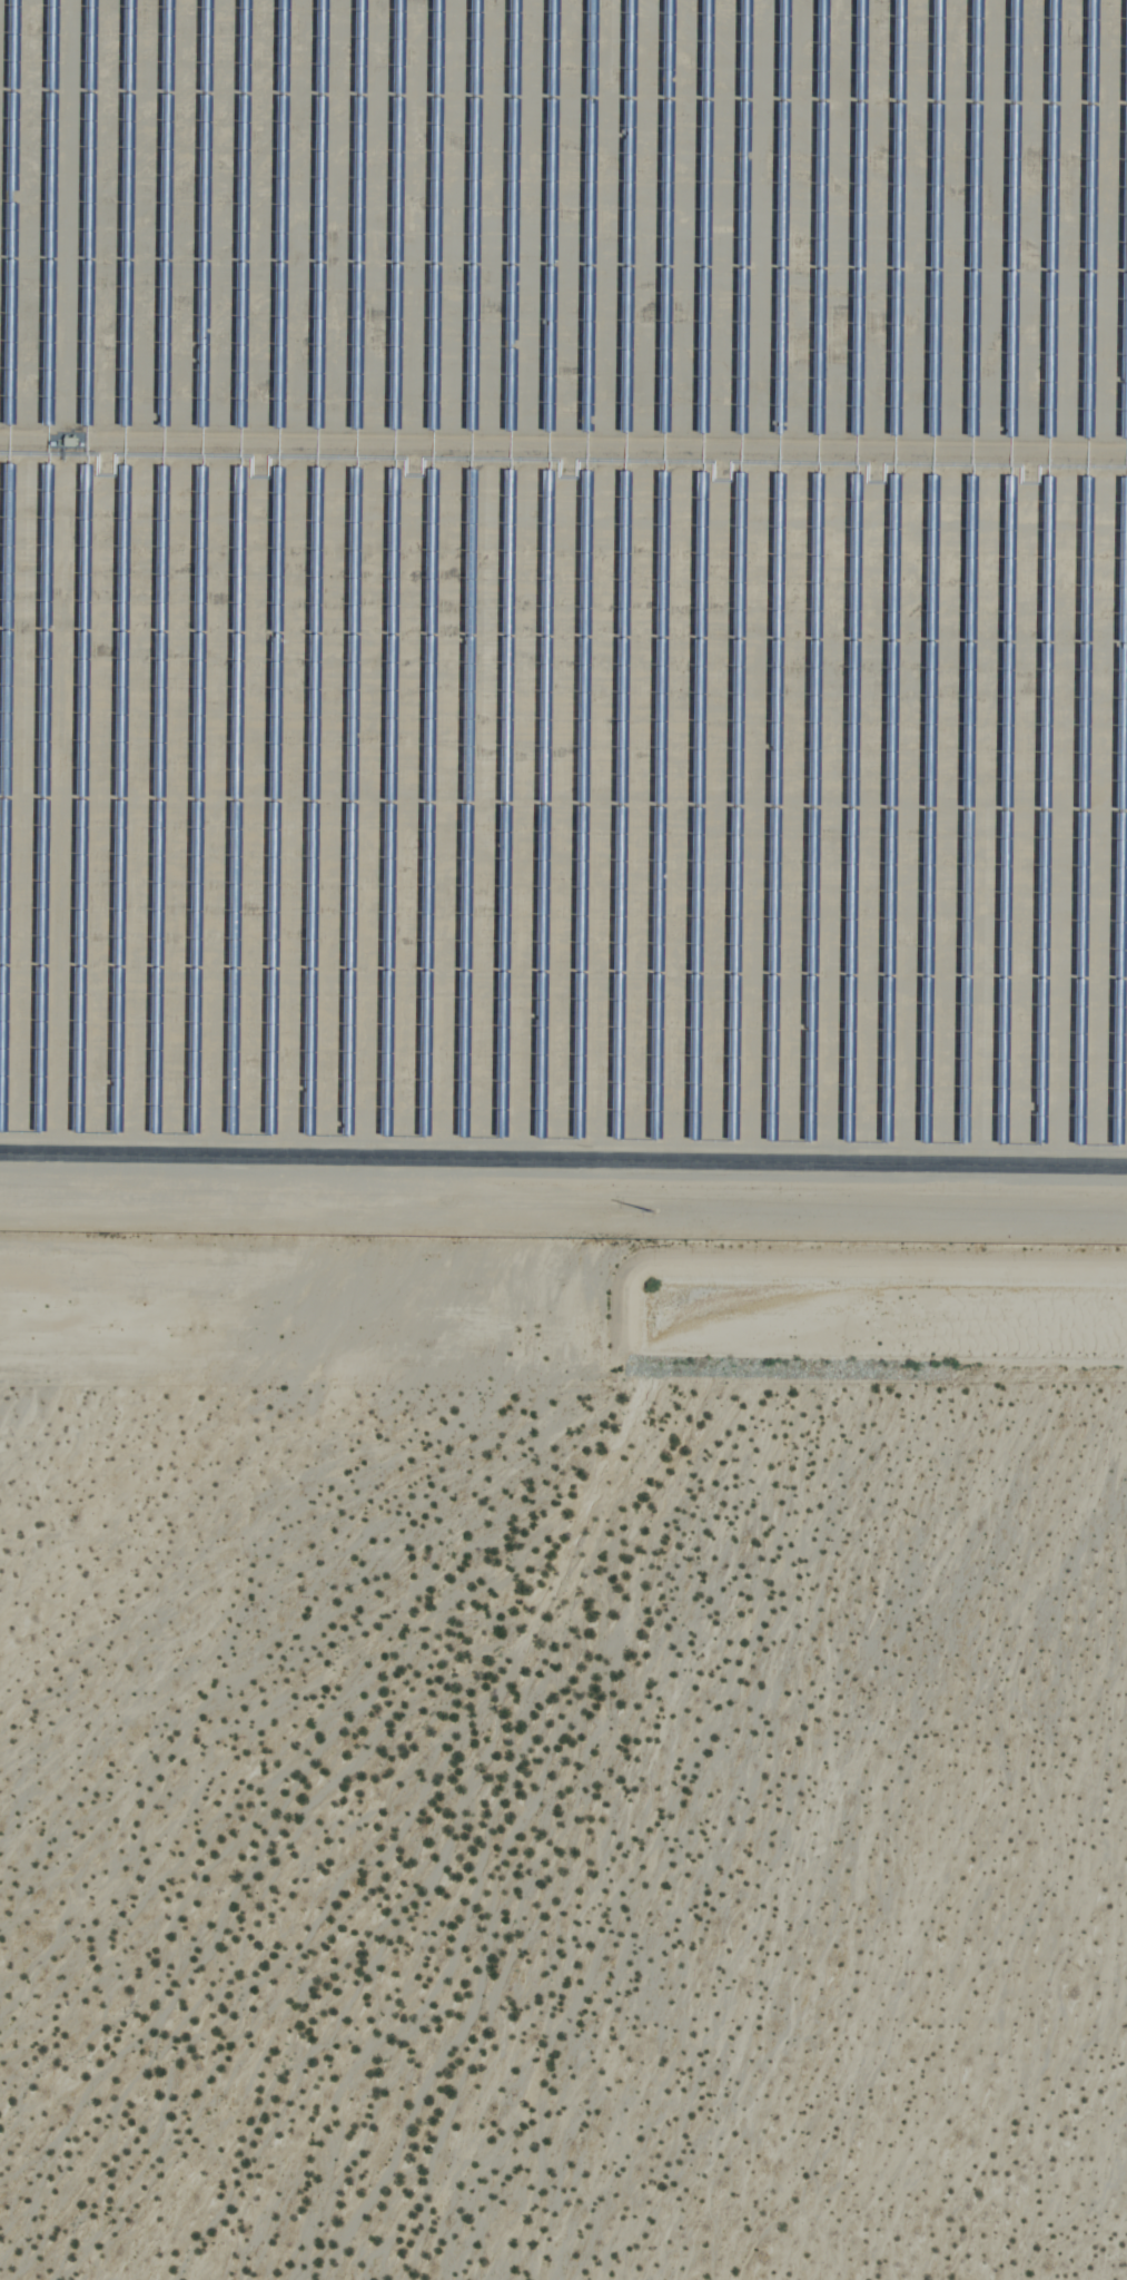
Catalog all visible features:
solar farm: (564, 619)
road: (563, 1157)
power tower: (650, 1210)

